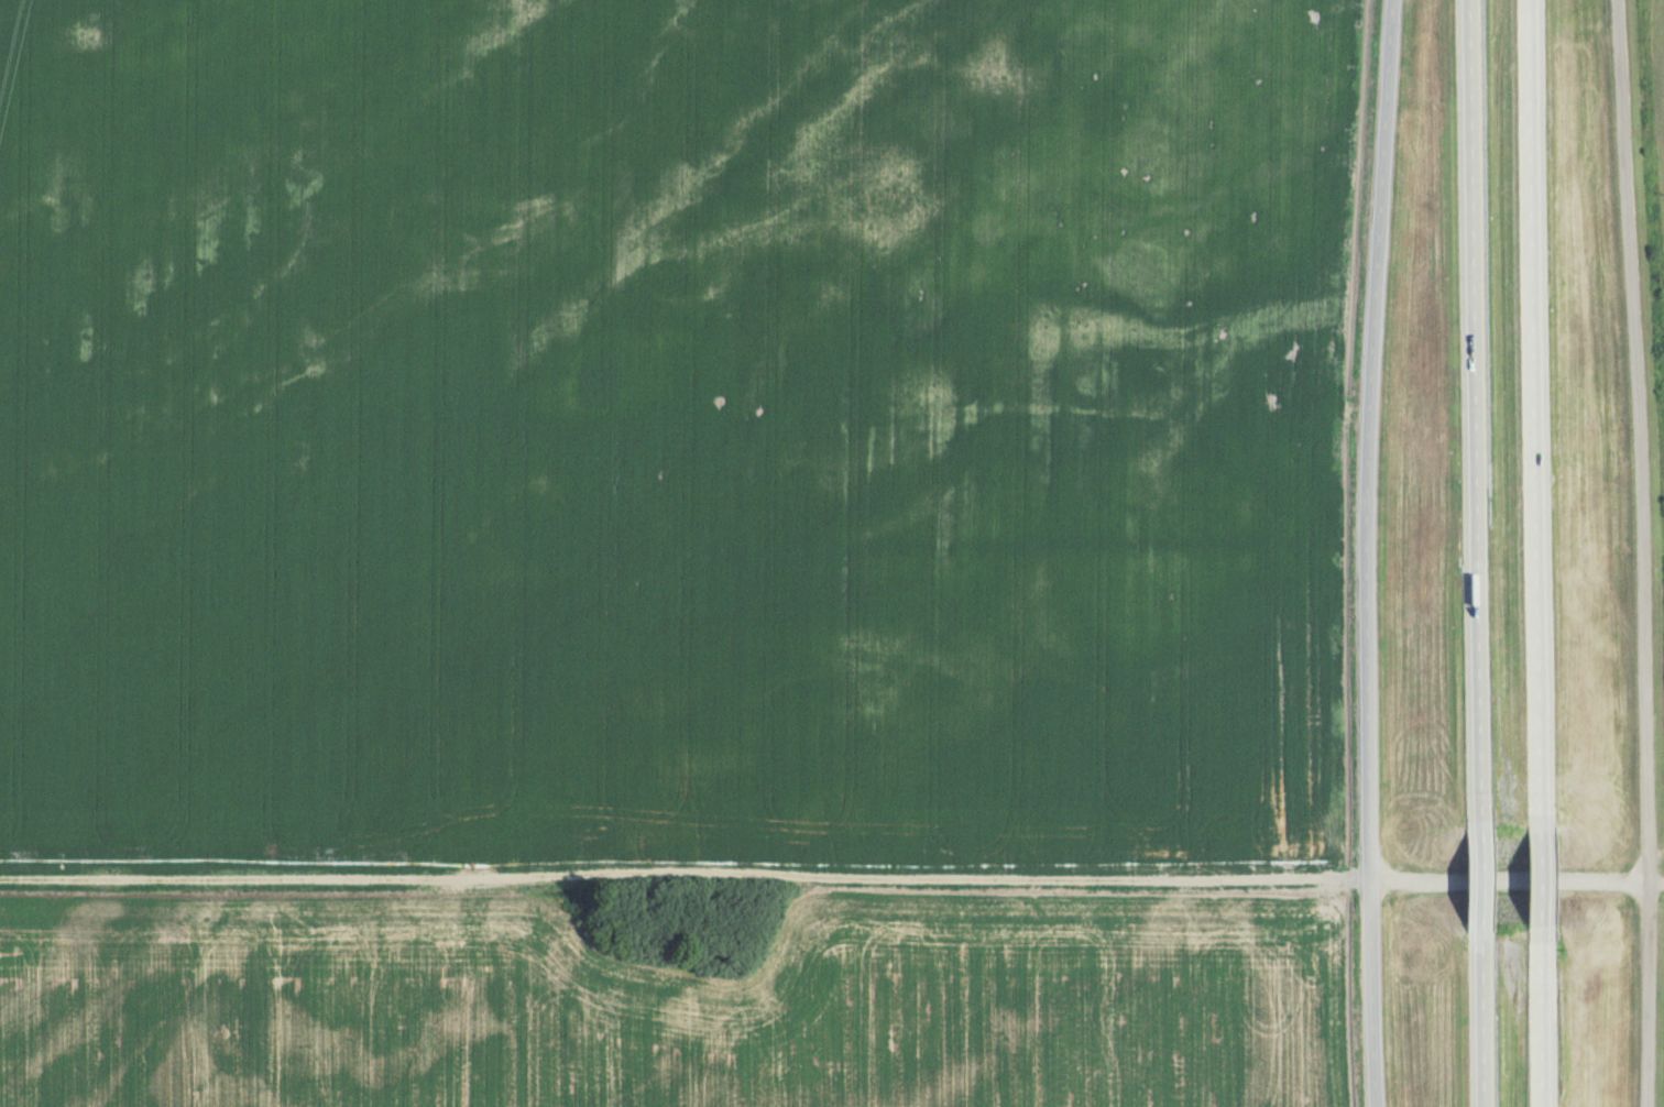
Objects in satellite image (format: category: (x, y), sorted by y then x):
road: (1477, 414)
road: (1539, 416)
road: (1367, 552)
road: (1644, 552)
road: (1484, 876)
road: (1517, 878)
road: (1545, 881)
road: (1484, 1016)
road: (1544, 1019)

